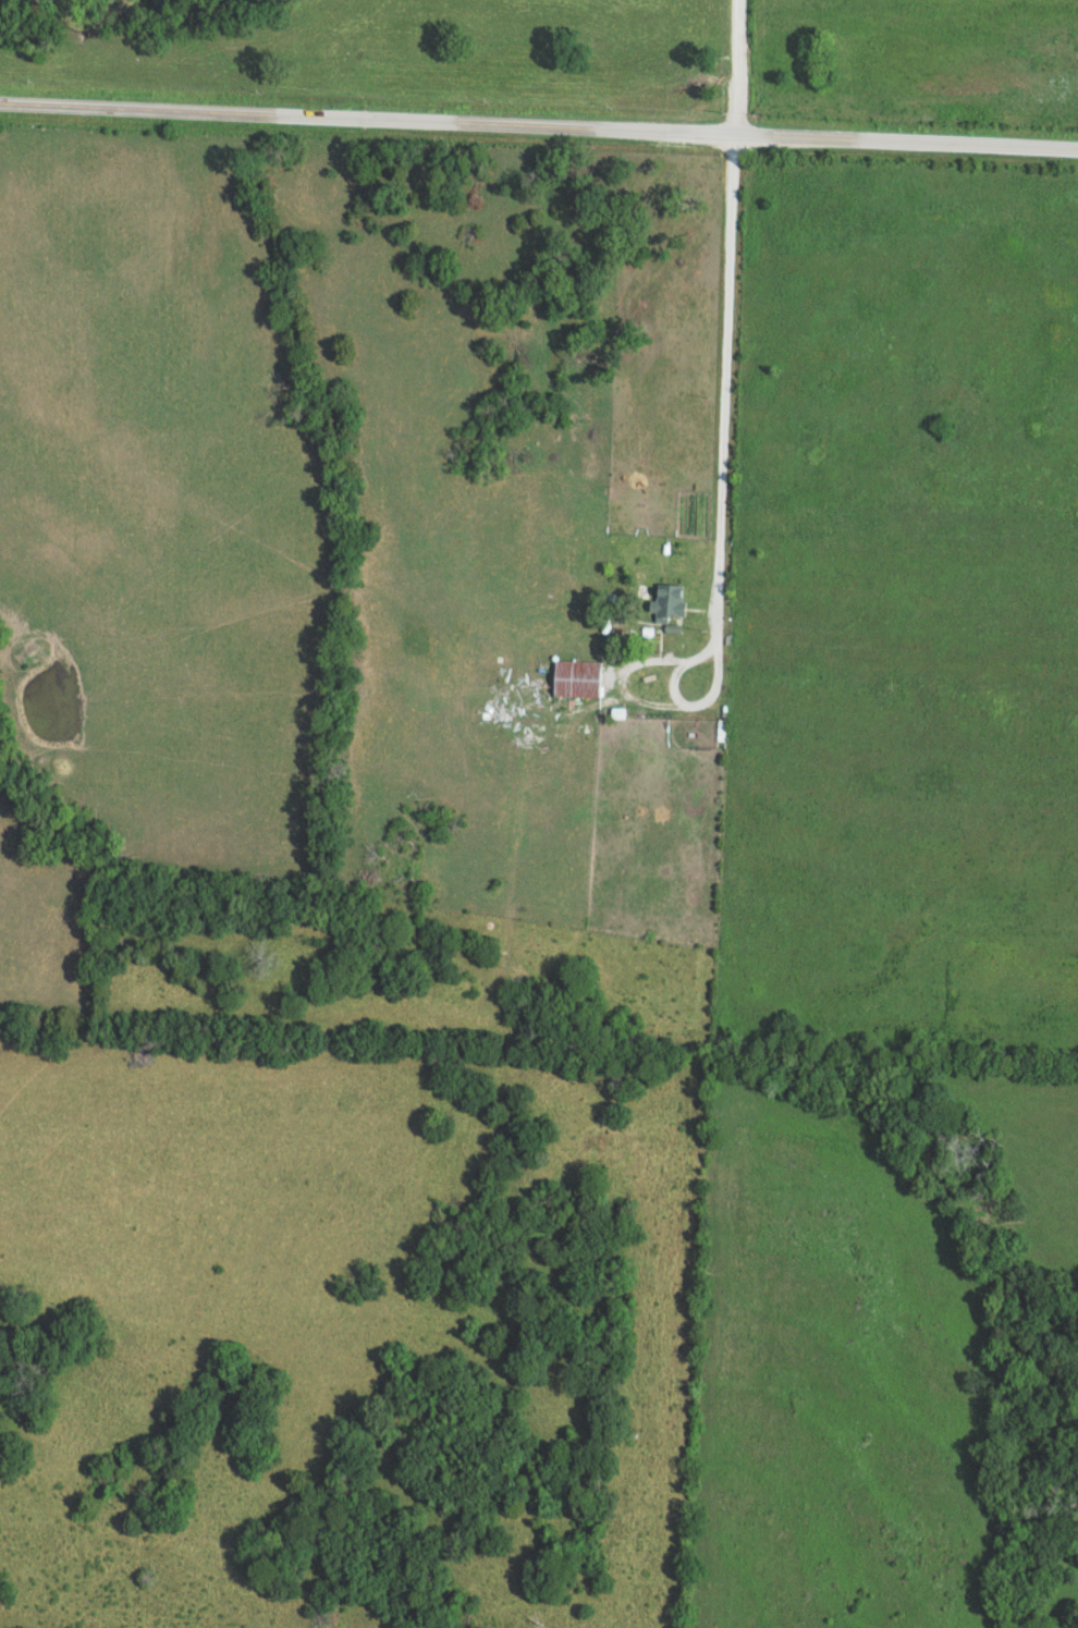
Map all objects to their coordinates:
road: (734, 66)
road: (538, 124)
road: (723, 388)
building: (671, 600)

